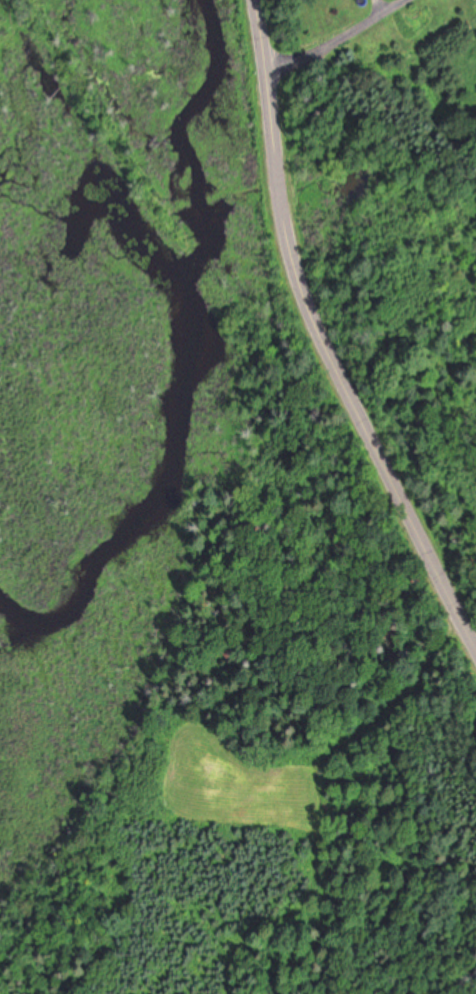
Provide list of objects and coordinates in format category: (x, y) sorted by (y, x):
road: (331, 332)

